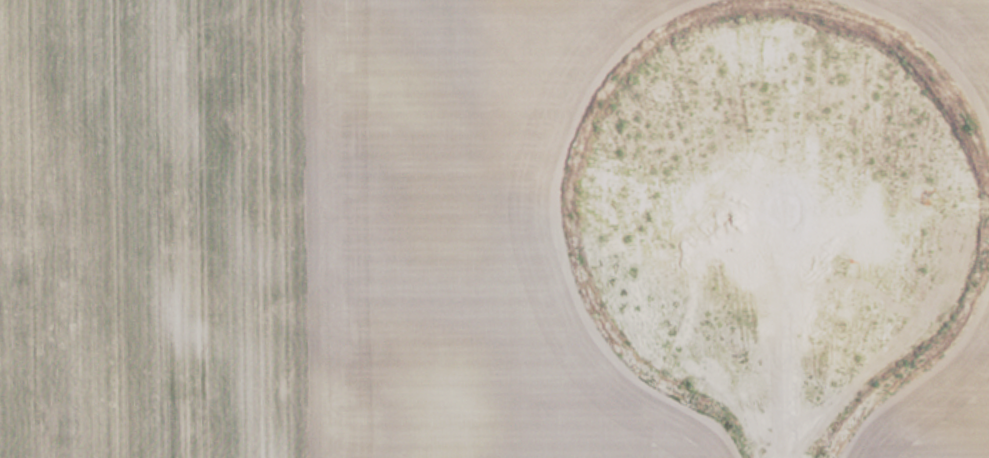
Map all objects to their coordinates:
wind turbine: (782, 237)

